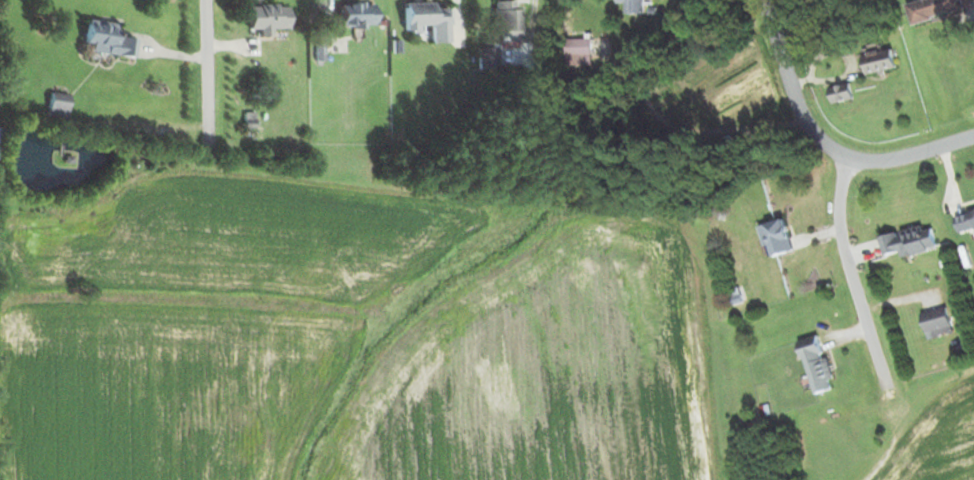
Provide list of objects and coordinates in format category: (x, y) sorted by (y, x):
building: (632, 6)
building: (932, 9)
building: (355, 16)
building: (266, 18)
building: (505, 18)
building: (426, 20)
building: (106, 40)
building: (577, 52)
building: (487, 59)
building: (878, 62)
road: (208, 73)
building: (840, 94)
building: (57, 105)
road: (823, 142)
building: (964, 221)
building: (777, 239)
building: (907, 242)
road: (849, 274)
building: (936, 323)
building: (815, 365)

